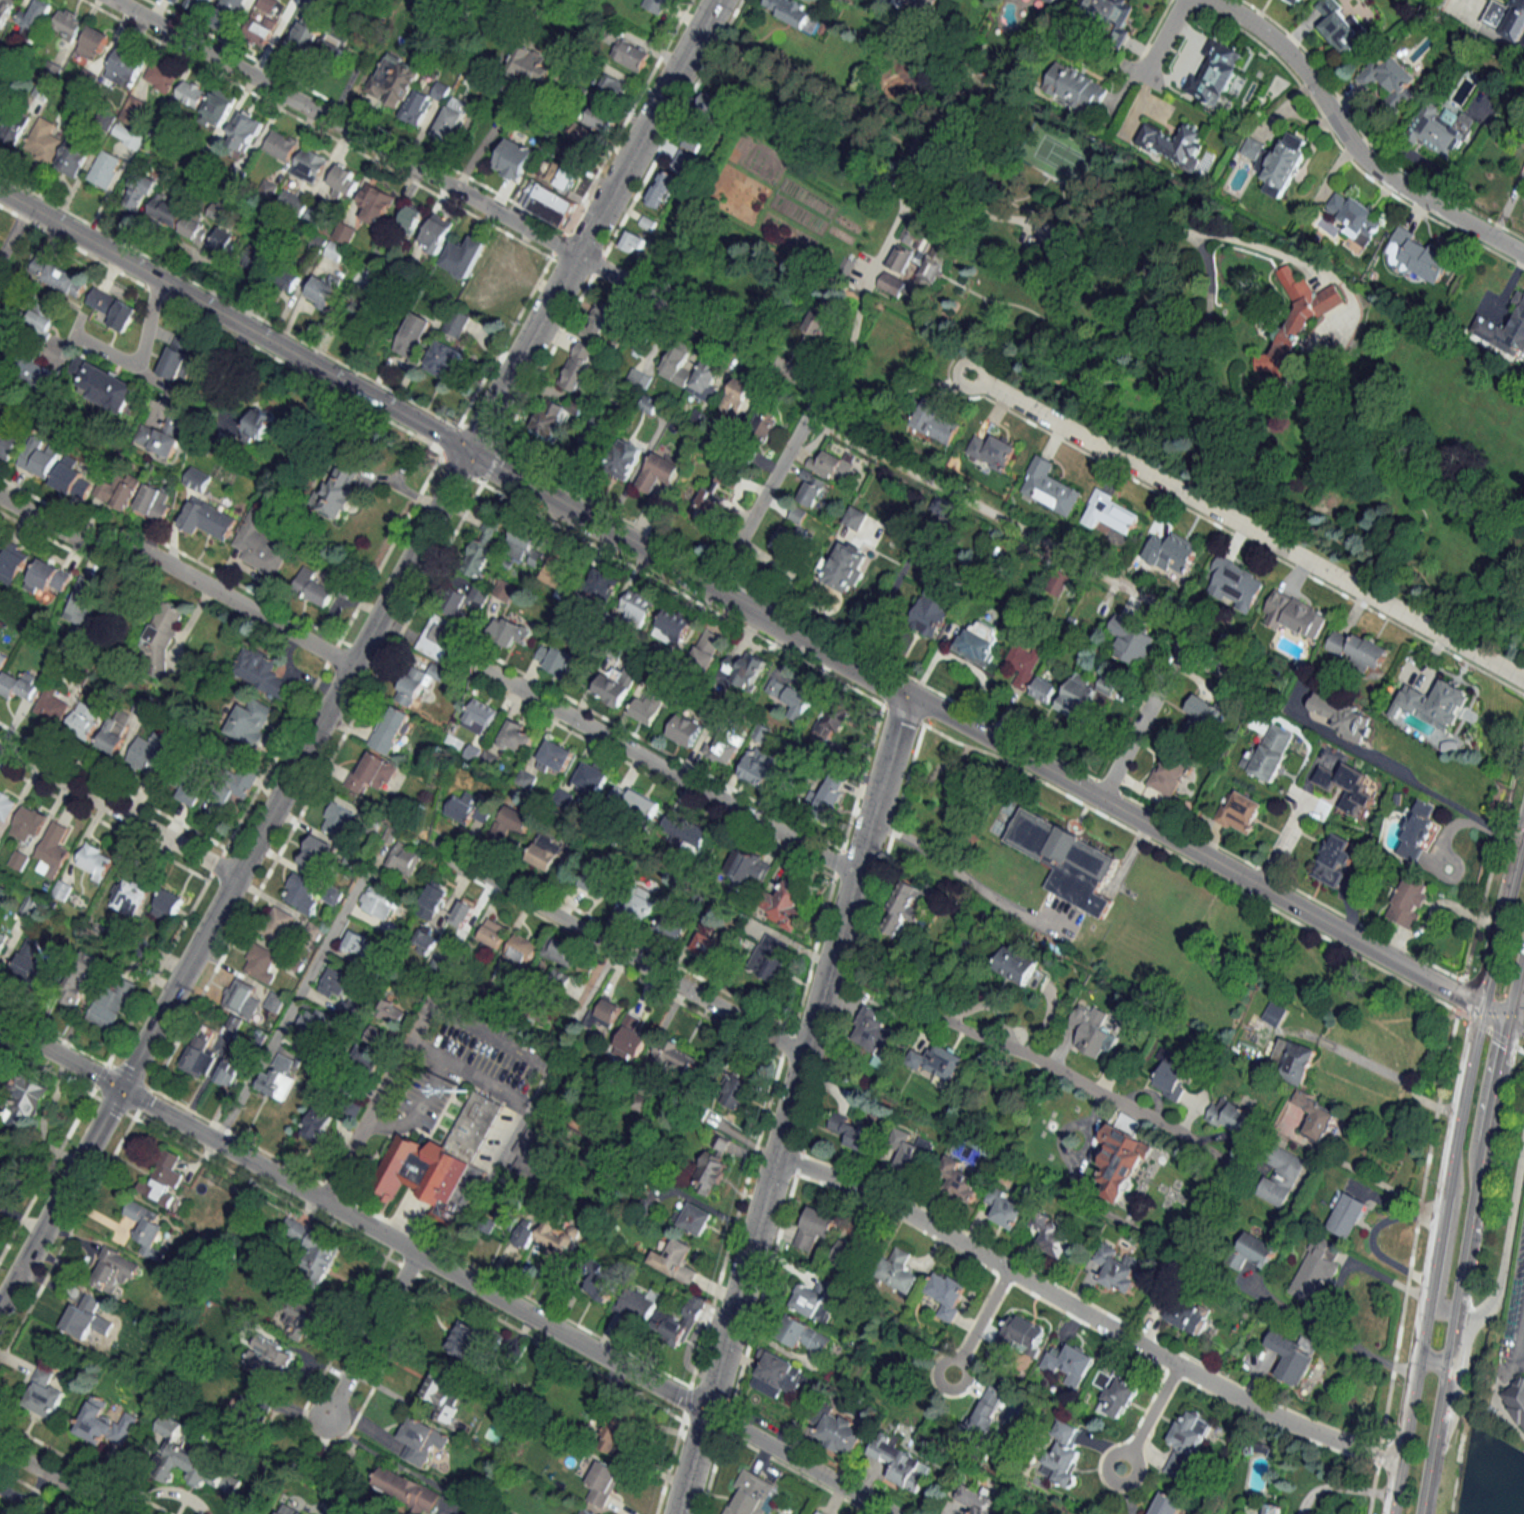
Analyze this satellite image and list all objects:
building: (178, 0)
building: (1052, 1)
building: (1294, 1)
building: (314, 2)
building: (920, 4)
building: (199, 5)
building: (654, 5)
building: (5, 10)
building: (231, 13)
building: (795, 14)
building: (1110, 15)
building: (34, 17)
building: (1506, 19)
building: (262, 22)
building: (66, 24)
building: (1342, 26)
building: (306, 34)
road: (1161, 41)
building: (93, 43)
building: (626, 49)
building: (342, 56)
building: (127, 63)
building: (526, 68)
building: (1216, 69)
building: (160, 77)
building: (394, 79)
building: (1389, 79)
building: (618, 87)
building: (1075, 88)
building: (191, 93)
building: (705, 100)
building: (218, 106)
building: (417, 106)
building: (600, 118)
building: (451, 120)
building: (13, 127)
road: (343, 128)
road: (646, 128)
building: (245, 131)
building: (1440, 131)
building: (128, 135)
building: (584, 135)
building: (43, 140)
road: (481, 143)
building: (281, 145)
building: (1174, 145)
road: (1351, 145)
building: (687, 151)
building: (72, 156)
building: (513, 159)
building: (1277, 161)
building: (309, 165)
building: (105, 168)
building: (561, 175)
building: (344, 180)
building: (660, 188)
building: (138, 191)
building: (290, 199)
building: (375, 203)
building: (551, 204)
building: (166, 210)
building: (1355, 217)
building: (410, 218)
road: (10, 225)
building: (195, 226)
building: (344, 232)
building: (436, 232)
road: (887, 239)
building: (634, 242)
building: (335, 250)
building: (463, 255)
building: (1418, 256)
building: (258, 261)
building: (929, 263)
building: (493, 268)
building: (58, 276)
building: (286, 277)
building: (322, 290)
building: (480, 300)
building: (113, 308)
road: (683, 315)
building: (43, 316)
building: (367, 317)
building: (820, 318)
building: (601, 321)
building: (1297, 321)
road: (234, 322)
building: (457, 322)
building: (1503, 332)
building: (414, 336)
road: (139, 354)
road: (522, 354)
building: (177, 357)
building: (446, 360)
road: (1330, 360)
building: (676, 364)
building: (577, 366)
building: (33, 373)
building: (638, 378)
building: (704, 378)
road: (804, 382)
building: (103, 384)
building: (735, 396)
building: (550, 418)
building: (936, 421)
building: (764, 422)
building: (258, 424)
building: (593, 433)
building: (161, 438)
building: (9, 442)
building: (992, 451)
traffic signals: (468, 453)
building: (40, 457)
building: (625, 459)
building: (832, 466)
building: (658, 472)
building: (70, 474)
building: (811, 487)
building: (1048, 487)
building: (119, 490)
building: (340, 491)
road: (764, 491)
building: (715, 497)
building: (154, 500)
building: (1110, 513)
building: (797, 515)
road: (998, 517)
building: (855, 518)
building: (208, 519)
road: (1245, 528)
building: (485, 540)
building: (789, 540)
building: (525, 547)
building: (261, 549)
building: (1171, 552)
building: (11, 565)
building: (847, 567)
building: (560, 569)
road: (179, 571)
building: (48, 577)
building: (605, 584)
building: (1235, 585)
building: (312, 587)
building: (464, 599)
building: (83, 603)
building: (638, 605)
building: (932, 612)
building: (1295, 614)
building: (675, 624)
building: (510, 631)
building: (437, 637)
building: (1131, 639)
building: (978, 640)
building: (158, 641)
building: (708, 647)
building: (1357, 650)
building: (2, 659)
building: (558, 660)
building: (1024, 662)
building: (743, 669)
building: (259, 672)
building: (417, 682)
building: (19, 685)
building: (614, 686)
building: (1043, 689)
road: (1157, 692)
building: (1079, 696)
building: (790, 697)
building: (1433, 703)
building: (52, 705)
building: (646, 710)
building: (481, 715)
building: (1203, 716)
building: (1343, 717)
building: (84, 719)
building: (251, 722)
building: (830, 723)
building: (389, 729)
building: (686, 730)
road: (971, 730)
building: (115, 733)
building: (517, 737)
building: (721, 750)
building: (1268, 753)
building: (148, 754)
building: (758, 770)
road: (666, 771)
building: (371, 772)
building: (1168, 774)
building: (592, 777)
building: (527, 779)
road: (1396, 779)
building: (1350, 787)
building: (230, 789)
building: (191, 793)
building: (828, 793)
building: (637, 802)
building: (6, 806)
building: (463, 807)
road: (118, 811)
building: (1238, 813)
building: (337, 819)
building: (516, 821)
building: (28, 823)
road: (1521, 823)
building: (686, 830)
building: (1417, 830)
road: (1521, 836)
road: (1281, 845)
building: (53, 850)
building: (545, 852)
building: (316, 853)
road: (1125, 858)
building: (404, 859)
building: (95, 860)
building: (1066, 860)
building: (1333, 860)
building: (747, 867)
road: (958, 871)
building: (598, 877)
road: (234, 880)
building: (62, 889)
building: (301, 894)
building: (130, 895)
building: (332, 896)
building: (433, 900)
building: (637, 900)
building: (378, 901)
building: (1409, 901)
building: (789, 902)
building: (167, 906)
building: (903, 907)
building: (463, 912)
road: (1497, 919)
building: (277, 924)
building: (673, 927)
building: (492, 932)
building: (3, 940)
building: (425, 940)
building: (359, 944)
building: (707, 945)
building: (518, 946)
building: (560, 950)
road: (614, 950)
building: (769, 961)
building: (32, 962)
building: (261, 962)
building: (439, 966)
building: (1020, 967)
building: (80, 978)
building: (335, 983)
building: (558, 986)
road: (1516, 989)
building: (241, 999)
building: (112, 1003)
traffic signals: (1478, 1004)
road: (1493, 1010)
road: (287, 1011)
building: (391, 1012)
building: (1274, 1013)
building: (540, 1014)
building: (603, 1015)
traffic signals: (1509, 1017)
road: (1516, 1022)
building: (312, 1026)
building: (1093, 1031)
building: (874, 1032)
building: (377, 1036)
road: (489, 1036)
building: (630, 1043)
road: (425, 1049)
road: (1009, 1049)
building: (674, 1056)
building: (199, 1058)
building: (366, 1058)
building: (1293, 1059)
building: (937, 1063)
building: (229, 1068)
road: (1394, 1077)
building: (279, 1078)
building: (1170, 1079)
road: (485, 1081)
road: (1497, 1081)
building: (735, 1091)
road: (379, 1093)
building: (25, 1102)
road: (791, 1104)
road: (526, 1107)
building: (351, 1109)
road: (417, 1109)
building: (1231, 1116)
building: (1316, 1116)
building: (317, 1124)
building: (855, 1132)
building: (910, 1150)
building: (532, 1152)
road: (1451, 1153)
building: (1120, 1161)
building: (440, 1162)
building: (710, 1173)
building: (1281, 1176)
building: (163, 1179)
building: (957, 1179)
road: (1379, 1185)
building: (1006, 1208)
building: (510, 1214)
building: (1345, 1214)
building: (694, 1218)
building: (147, 1227)
road: (1471, 1228)
building: (815, 1230)
building: (525, 1235)
building: (1054, 1235)
road: (1372, 1237)
building: (560, 1241)
road: (1508, 1247)
building: (314, 1248)
building: (1253, 1251)
building: (849, 1254)
building: (676, 1260)
road: (444, 1268)
building: (1117, 1268)
building: (114, 1270)
building: (899, 1270)
building: (1313, 1272)
building: (601, 1283)
building: (946, 1294)
road: (1336, 1295)
building: (815, 1298)
park: (1501, 1300)
building: (640, 1303)
building: (1161, 1304)
building: (300, 1309)
parking lot: (1513, 1312)
road: (1084, 1314)
building: (1189, 1314)
building: (85, 1317)
road: (1437, 1322)
building: (677, 1323)
road: (980, 1324)
building: (1023, 1334)
road: (370, 1336)
building: (805, 1336)
building: (468, 1341)
building: (1292, 1355)
building: (271, 1356)
road: (1432, 1358)
building: (1070, 1362)
building: (780, 1376)
building: (1114, 1392)
building: (444, 1393)
building: (44, 1394)
building: (1515, 1399)
road: (1405, 1408)
building: (988, 1410)
road: (1439, 1412)
road: (1149, 1418)
building: (102, 1423)
building: (837, 1431)
building: (615, 1432)
building: (422, 1440)
building: (1186, 1441)
building: (1262, 1446)
building: (1059, 1455)
building: (193, 1462)
building: (902, 1464)
road: (59, 1481)
building: (602, 1483)
road: (1338, 1486)
building: (406, 1490)
building: (751, 1494)
road: (26, 1495)
building: (979, 1501)
building: (1167, 1504)
building: (1272, 1509)
building: (289, 1510)
building: (584, 1511)
building: (817, 1513)

